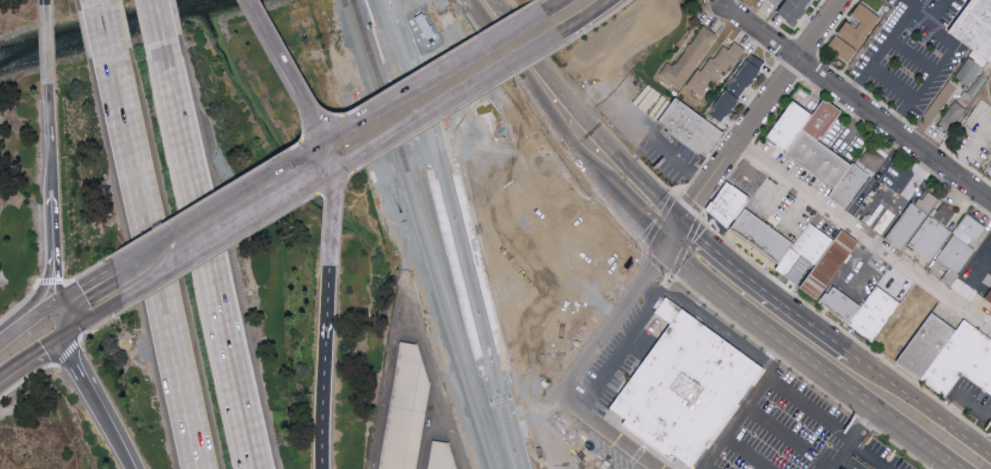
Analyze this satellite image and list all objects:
railway: (352, 2)
building: (777, 2)
road: (92, 3)
road: (45, 4)
railway: (343, 5)
road: (729, 5)
road: (550, 6)
road: (913, 6)
building: (797, 9)
road: (933, 14)
road: (577, 16)
road: (667, 19)
road: (600, 22)
road: (152, 24)
building: (862, 25)
building: (978, 25)
building: (423, 26)
road: (930, 31)
road: (100, 36)
road: (785, 36)
road: (48, 47)
building: (843, 48)
road: (913, 56)
building: (690, 57)
road: (280, 65)
building: (713, 70)
building: (969, 70)
road: (429, 72)
road: (893, 84)
building: (740, 85)
road: (438, 97)
road: (531, 97)
road: (858, 107)
road: (459, 108)
road: (762, 110)
road: (467, 111)
building: (952, 115)
road: (932, 116)
road: (577, 117)
building: (795, 126)
road: (989, 126)
building: (689, 128)
road: (854, 128)
traffic signals: (317, 132)
road: (52, 139)
parking lot: (649, 142)
road: (660, 143)
road: (976, 143)
building: (824, 147)
road: (321, 148)
road: (544, 161)
road: (456, 162)
traffic signals: (325, 165)
road: (524, 166)
road: (911, 169)
road: (504, 170)
road: (751, 175)
road: (484, 176)
road: (470, 180)
building: (860, 180)
road: (335, 184)
road: (660, 184)
road: (228, 190)
road: (989, 197)
road: (687, 205)
building: (732, 205)
road: (252, 210)
road: (452, 210)
road: (332, 215)
road: (637, 215)
road: (652, 215)
parking lot: (524, 216)
road: (774, 217)
road: (55, 219)
traffic signals: (679, 220)
building: (915, 223)
railway: (453, 232)
railway: (462, 233)
road: (671, 233)
building: (936, 235)
railway: (426, 237)
building: (767, 237)
road: (862, 238)
railway: (417, 239)
road: (634, 242)
traffic signals: (664, 246)
building: (816, 246)
building: (965, 246)
road: (686, 247)
road: (597, 251)
road: (216, 253)
road: (124, 256)
road: (202, 259)
road: (655, 266)
building: (834, 266)
road: (149, 268)
road: (865, 268)
road: (487, 271)
building: (559, 271)
road: (56, 272)
road: (152, 273)
road: (83, 281)
road: (406, 282)
road: (975, 284)
road: (43, 285)
road: (645, 288)
road: (762, 289)
traffic signals: (57, 297)
building: (990, 297)
building: (990, 299)
building: (844, 307)
road: (40, 308)
road: (93, 312)
road: (327, 312)
road: (59, 315)
road: (645, 316)
building: (878, 316)
road: (609, 323)
road: (12, 326)
road: (95, 327)
road: (482, 327)
traffic signals: (62, 333)
building: (904, 336)
road: (66, 342)
road: (645, 342)
building: (930, 347)
road: (762, 349)
road: (67, 354)
road: (808, 359)
road: (31, 360)
road: (764, 361)
building: (964, 362)
road: (531, 363)
road: (514, 368)
road: (505, 370)
railway: (510, 374)
road: (608, 377)
road: (27, 378)
railway: (487, 380)
building: (685, 389)
road: (964, 400)
road: (919, 407)
road: (100, 410)
road: (323, 412)
building: (405, 412)
road: (866, 423)
road: (430, 425)
road: (821, 425)
road: (863, 428)
road: (602, 429)
road: (789, 437)
road: (901, 449)
road: (573, 450)
parking lot: (572, 451)
road: (749, 452)
road: (841, 457)
building: (441, 458)
road: (710, 466)

